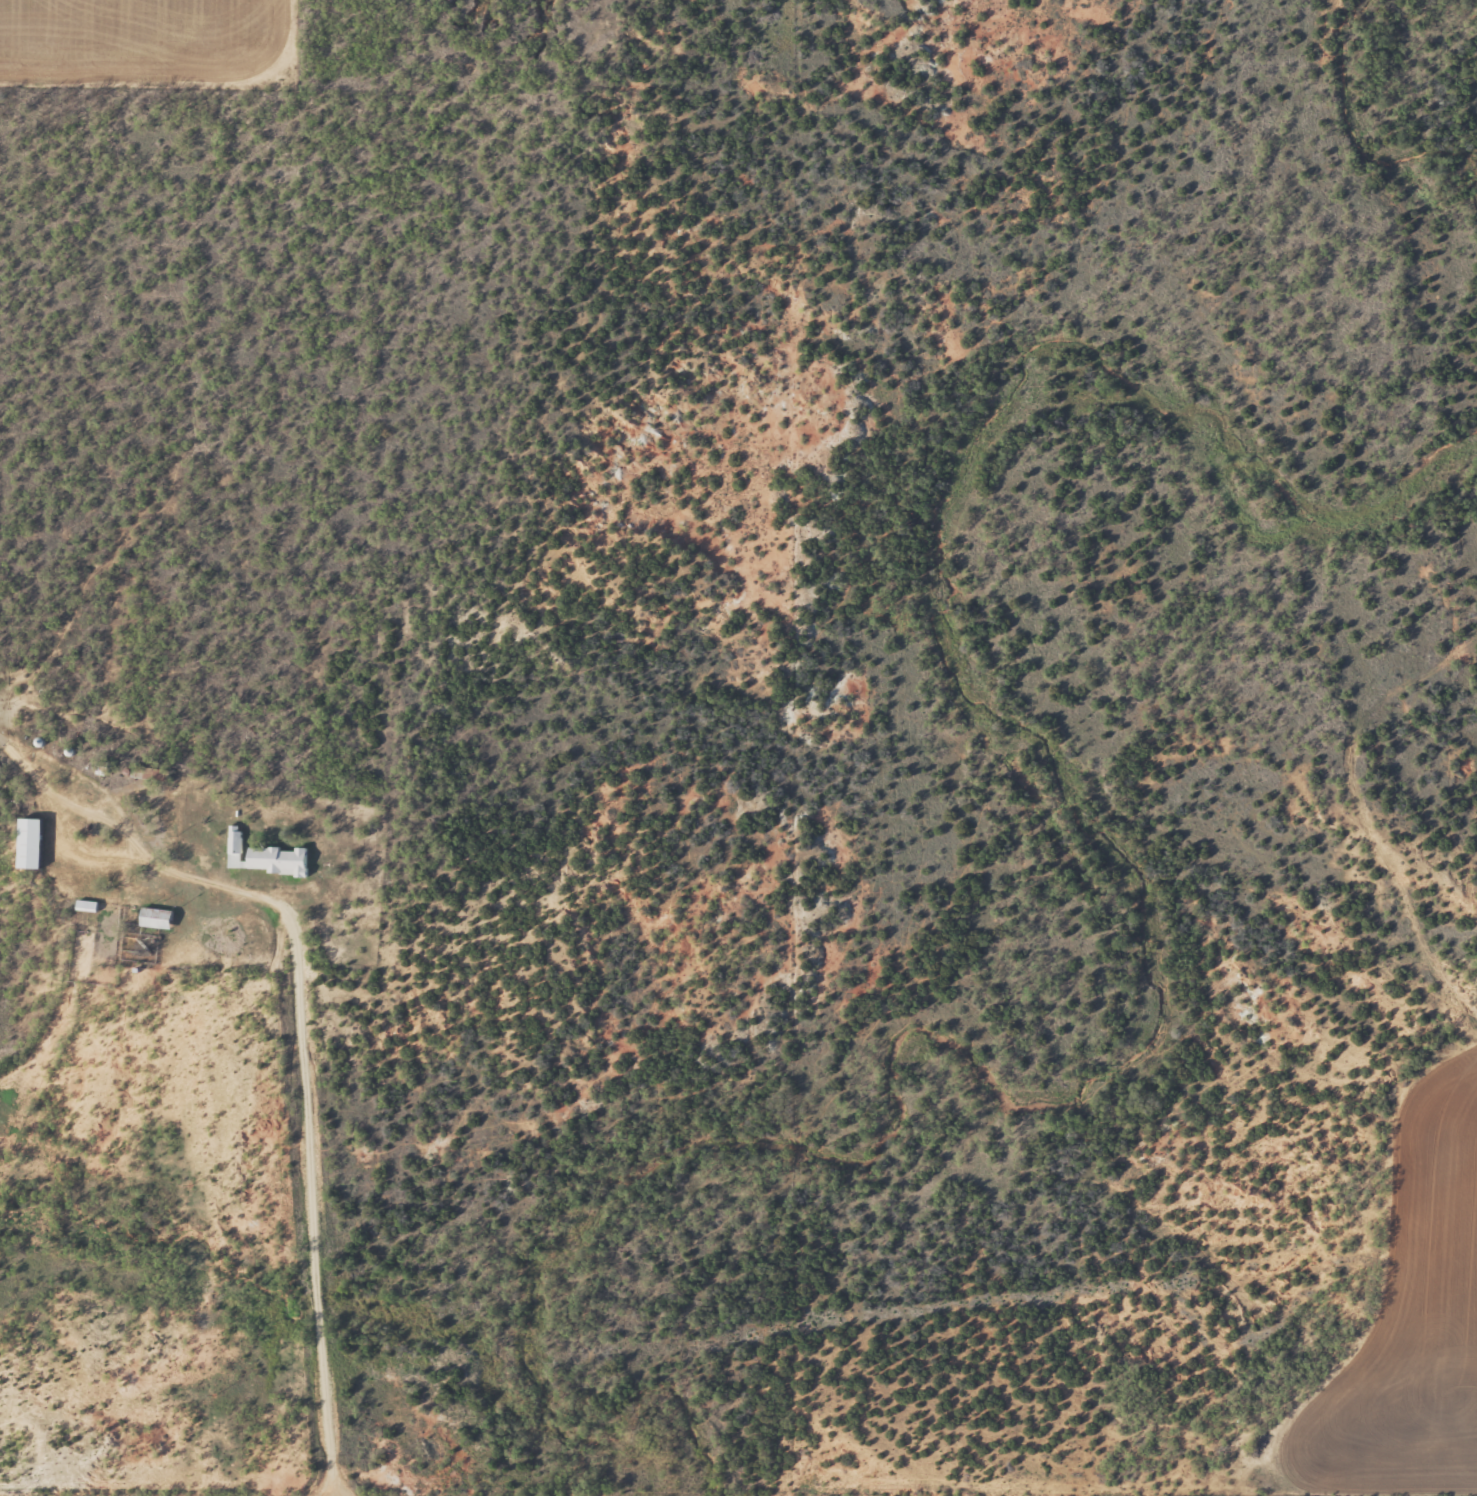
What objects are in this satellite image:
building: (36, 845)
building: (236, 848)
building: (275, 861)
building: (89, 908)
building: (160, 920)
road: (297, 1037)

